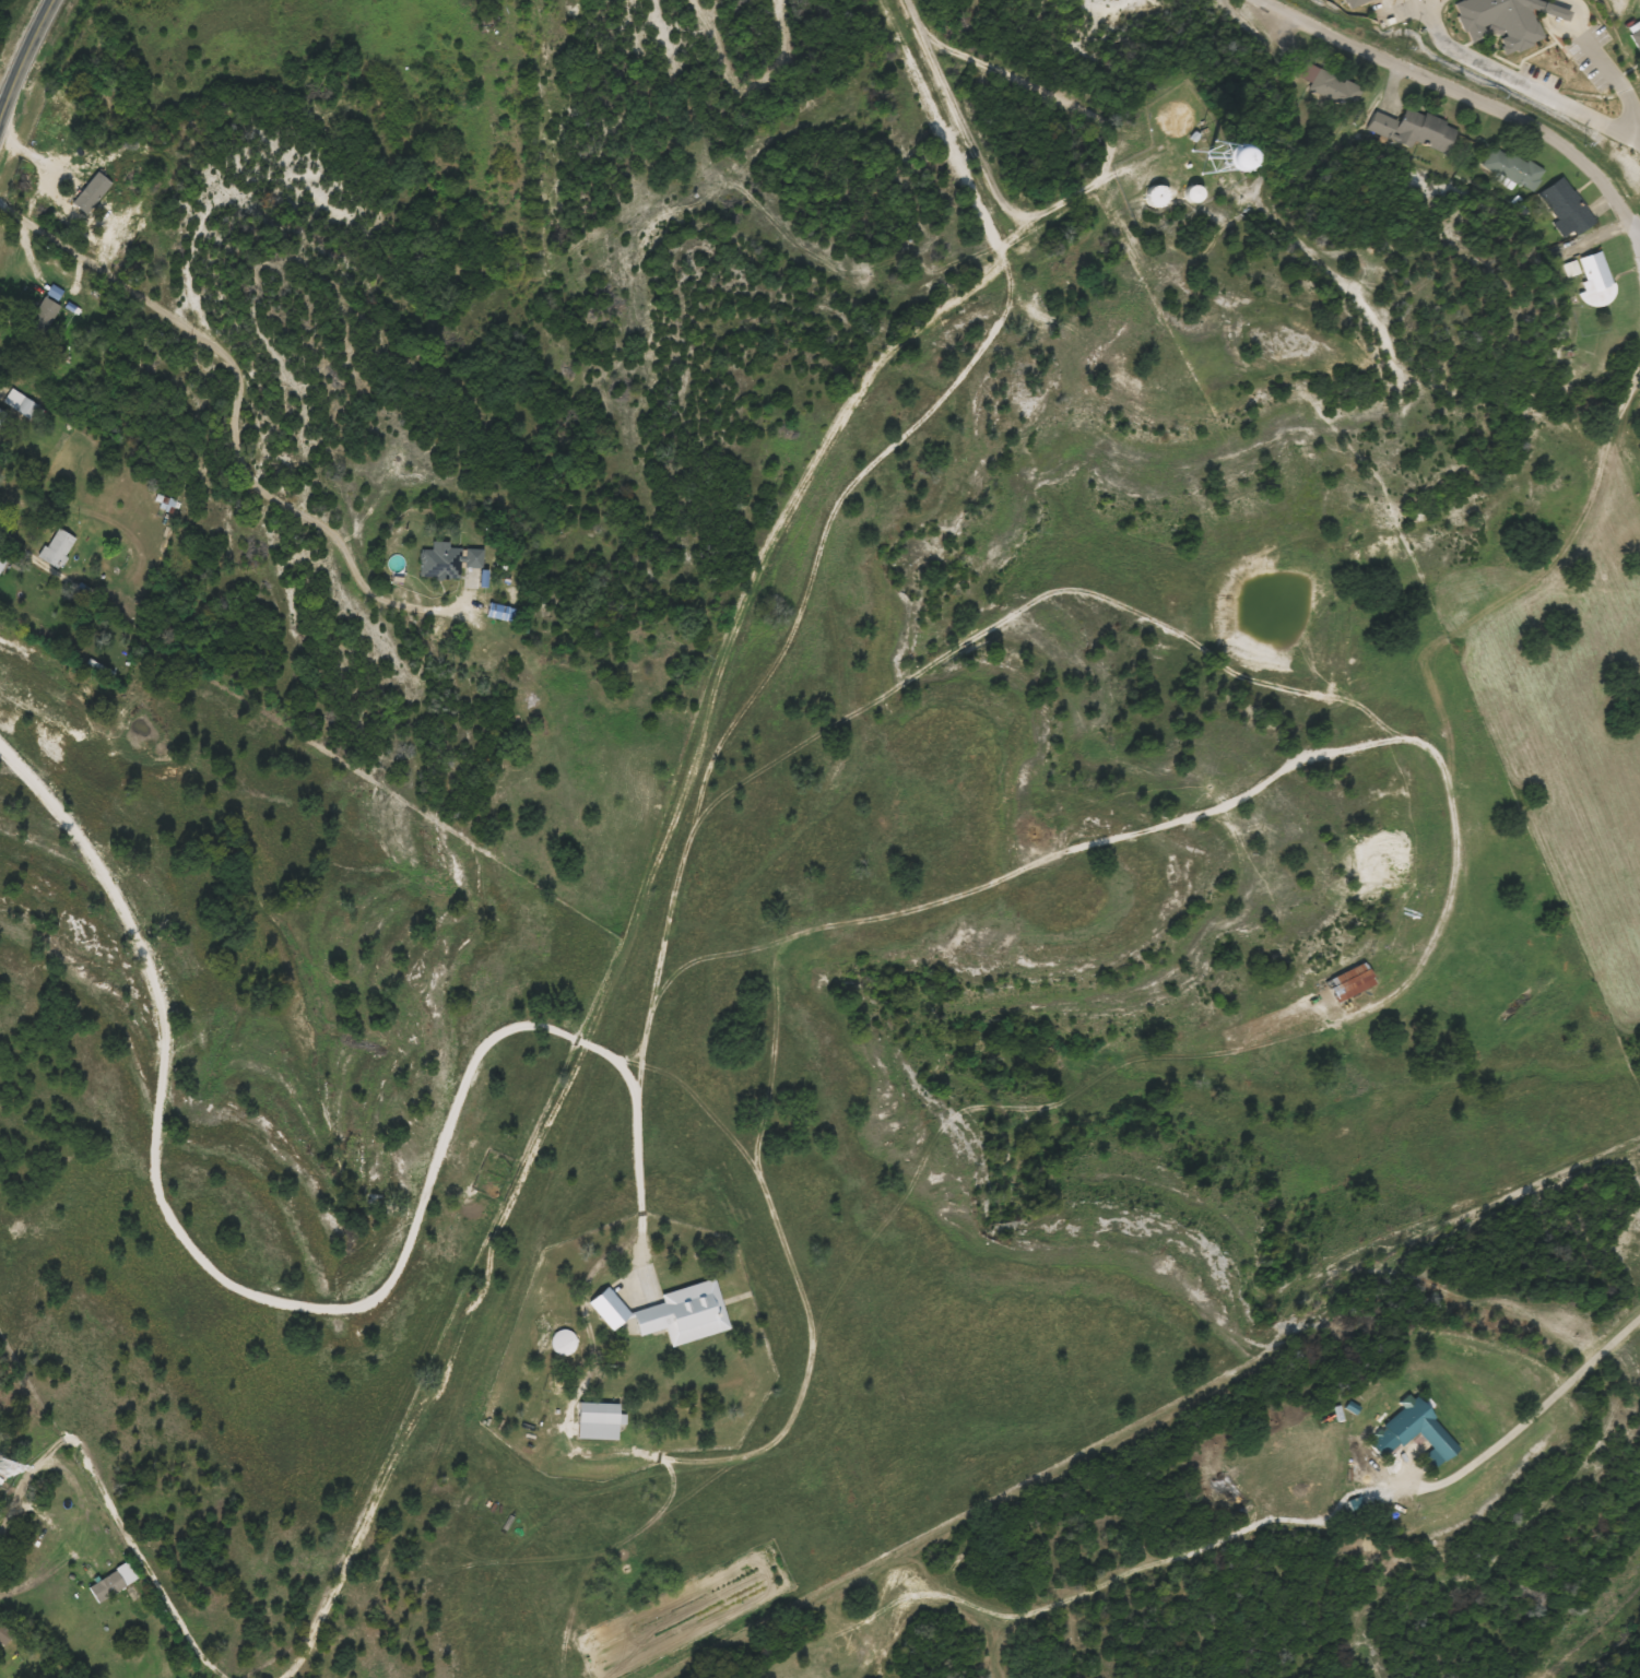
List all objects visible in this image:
building: (1350, 2)
building: (1500, 20)
building: (1637, 36)
road: (20, 44)
building: (1334, 88)
road: (1460, 92)
building: (1172, 118)
building: (1423, 130)
road: (1274, 135)
road: (1328, 152)
building: (1230, 166)
building: (1511, 167)
building: (1194, 194)
building: (1156, 197)
building: (1566, 206)
road: (1639, 235)
road: (1639, 245)
building: (1594, 272)
building: (44, 315)
building: (21, 403)
road: (1618, 407)
building: (2, 415)
road: (222, 416)
building: (58, 548)
building: (448, 560)
building: (1, 563)
building: (1349, 982)
road: (326, 1309)
building: (599, 1421)
building: (1415, 1433)
building: (107, 1586)
building: (3, 1634)

